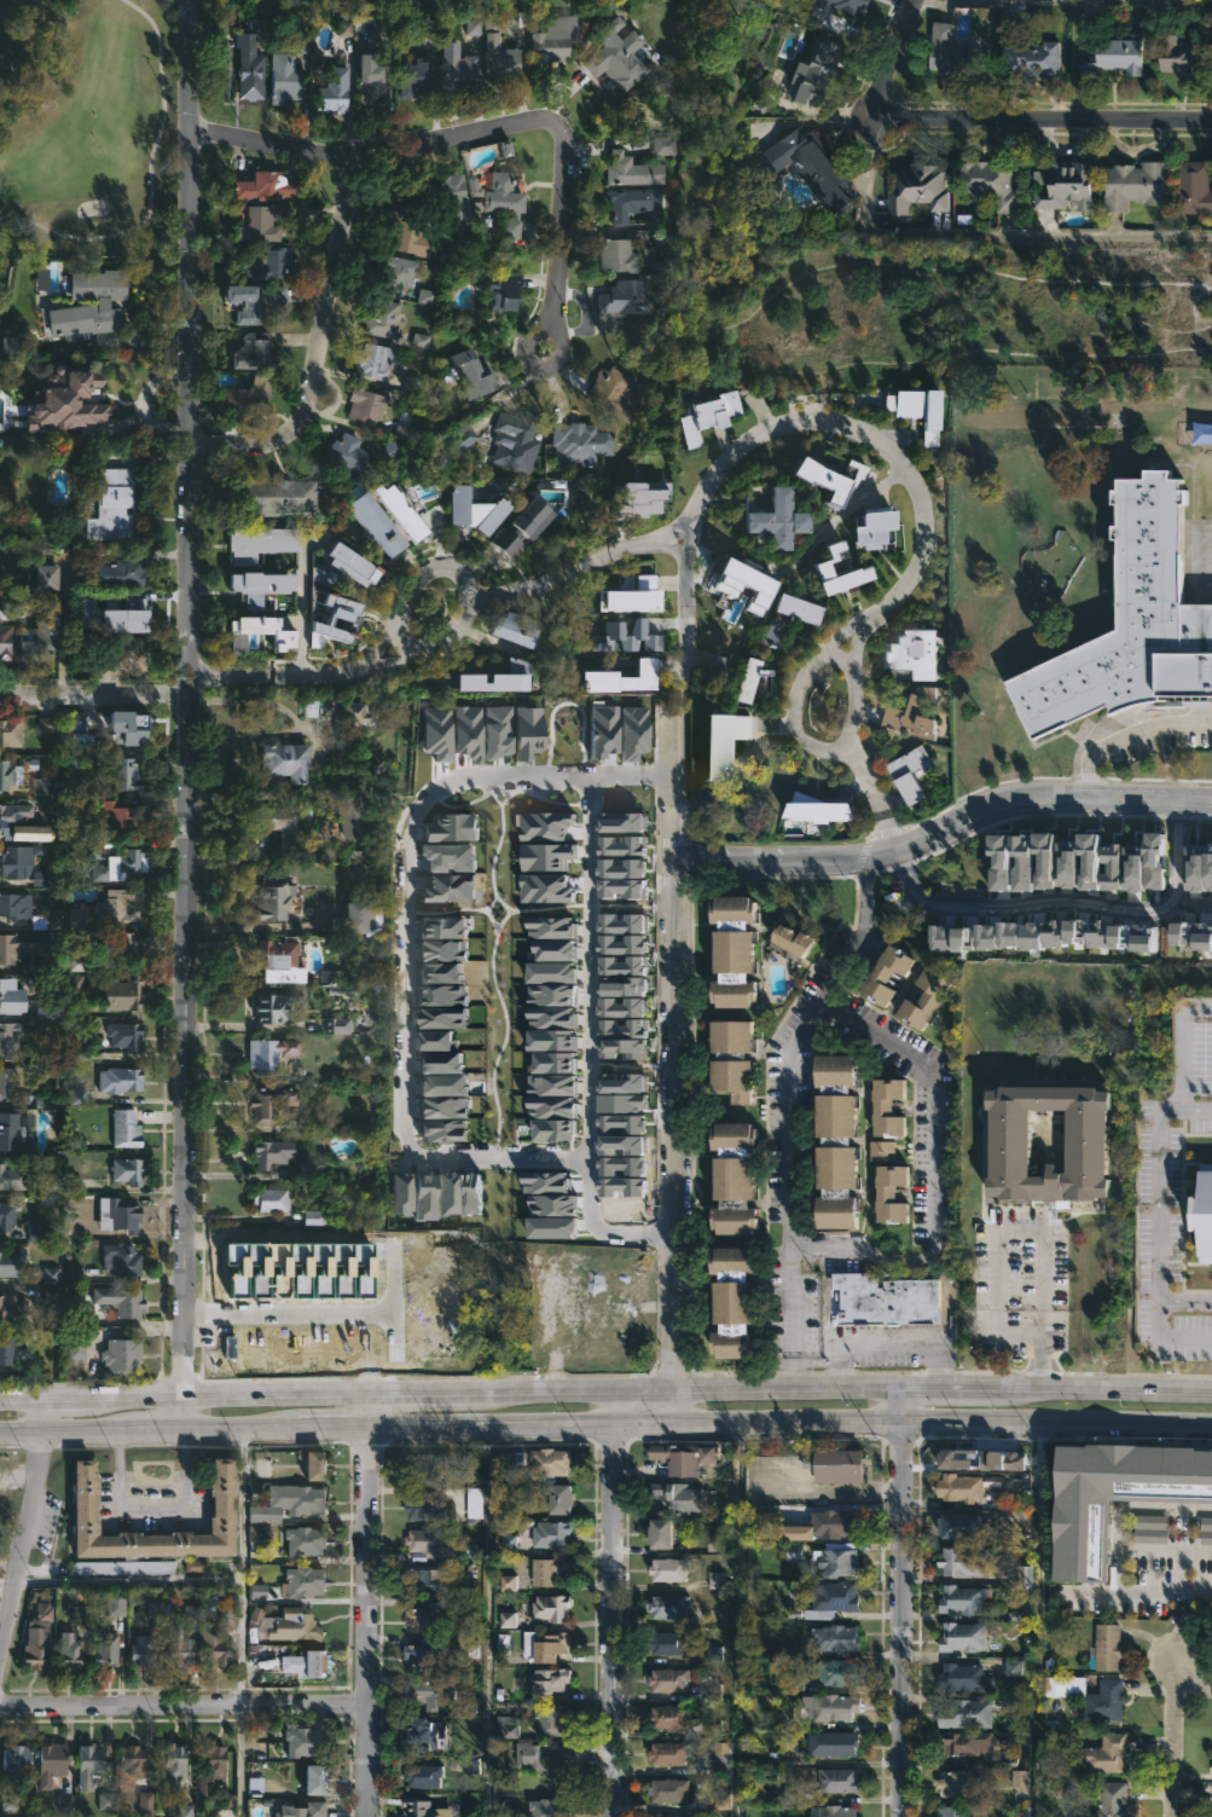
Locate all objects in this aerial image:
road: (1062, 0)
building: (550, 51)
building: (950, 51)
building: (503, 53)
building: (620, 54)
building: (1109, 56)
building: (1030, 57)
building: (1176, 58)
building: (251, 66)
building: (460, 68)
building: (811, 71)
building: (418, 76)
building: (286, 77)
building: (375, 77)
building: (334, 92)
road: (992, 110)
park: (86, 116)
road: (366, 152)
building: (800, 164)
building: (633, 169)
road: (152, 180)
building: (988, 183)
building: (1132, 184)
building: (1060, 185)
building: (1191, 186)
building: (269, 187)
building: (916, 187)
building: (503, 191)
building: (631, 201)
building: (458, 203)
building: (266, 221)
building: (514, 231)
building: (408, 235)
road: (972, 235)
building: (613, 254)
building: (273, 262)
road: (555, 267)
building: (405, 271)
road: (1110, 287)
building: (501, 295)
building: (257, 301)
building: (93, 303)
building: (622, 303)
park: (963, 307)
building: (387, 318)
building: (260, 348)
road: (318, 352)
building: (377, 360)
road: (835, 371)
building: (479, 375)
building: (615, 393)
building: (255, 397)
building: (371, 406)
building: (71, 409)
road: (133, 416)
building: (713, 416)
road: (160, 424)
building: (520, 433)
building: (458, 439)
building: (578, 442)
building: (352, 453)
building: (836, 480)
building: (273, 497)
building: (112, 507)
building: (481, 511)
road: (841, 514)
building: (779, 522)
building: (376, 523)
building: (528, 527)
building: (880, 531)
building: (261, 543)
road: (578, 568)
building: (833, 568)
building: (349, 571)
building: (127, 572)
road: (905, 584)
building: (262, 588)
road: (683, 591)
road: (302, 609)
building: (129, 618)
building: (353, 620)
building: (781, 621)
building: (1127, 621)
road: (462, 625)
building: (7, 631)
building: (520, 631)
building: (262, 633)
building: (45, 636)
building: (123, 654)
road: (836, 658)
building: (627, 675)
road: (228, 678)
building: (756, 679)
building: (501, 681)
road: (796, 690)
road: (92, 693)
road: (253, 700)
building: (907, 711)
road: (185, 716)
building: (360, 716)
building: (51, 728)
building: (129, 728)
building: (11, 730)
road: (1126, 736)
building: (288, 760)
building: (905, 770)
building: (10, 774)
building: (128, 775)
building: (44, 789)
building: (11, 815)
building: (112, 815)
building: (355, 816)
building: (284, 823)
road: (943, 828)
road: (1177, 851)
building: (18, 860)
building: (121, 867)
building: (274, 899)
road: (1194, 901)
road: (1021, 903)
building: (15, 904)
building: (117, 908)
building: (361, 918)
building: (791, 941)
building: (120, 945)
building: (744, 949)
building: (10, 954)
building: (282, 960)
road: (402, 973)
building: (888, 973)
building: (127, 993)
building: (5, 997)
building: (928, 997)
road: (586, 1001)
building: (274, 1007)
building: (126, 1035)
building: (12, 1040)
road: (1185, 1051)
building: (273, 1053)
building: (740, 1058)
building: (120, 1080)
building: (7, 1081)
road: (675, 1086)
road: (788, 1095)
building: (269, 1103)
building: (893, 1110)
building: (127, 1129)
building: (11, 1132)
building: (845, 1142)
building: (1009, 1146)
building: (885, 1150)
building: (273, 1152)
building: (128, 1170)
road: (933, 1175)
building: (12, 1177)
building: (742, 1177)
building: (894, 1193)
building: (272, 1200)
building: (1204, 1208)
road: (1160, 1209)
building: (7, 1211)
building: (120, 1215)
road: (1020, 1227)
building: (122, 1260)
building: (11, 1265)
building: (882, 1298)
building: (122, 1300)
building: (740, 1302)
building: (13, 1306)
road: (998, 1321)
road: (1044, 1321)
road: (1159, 1336)
road: (886, 1341)
building: (79, 1342)
road: (1043, 1342)
building: (7, 1348)
building: (122, 1355)
road: (605, 1398)
road: (900, 1407)
road: (677, 1410)
road: (609, 1411)
road: (605, 1425)
building: (683, 1456)
building: (967, 1460)
building: (551, 1462)
building: (320, 1466)
building: (845, 1466)
building: (421, 1470)
building: (957, 1487)
building: (675, 1494)
building: (472, 1499)
building: (567, 1500)
building: (290, 1503)
building: (87, 1508)
building: (425, 1508)
building: (836, 1523)
building: (957, 1524)
road: (1120, 1532)
road: (29, 1533)
building: (552, 1534)
building: (666, 1534)
building: (306, 1540)
building: (425, 1540)
building: (1085, 1540)
building: (834, 1558)
building: (959, 1560)
building: (123, 1567)
building: (668, 1568)
road: (243, 1569)
building: (546, 1569)
building: (301, 1580)
road: (131, 1581)
building: (424, 1581)
road: (1166, 1591)
building: (836, 1598)
building: (958, 1598)
building: (671, 1605)
building: (552, 1607)
road: (369, 1608)
building: (435, 1616)
road: (737, 1620)
road: (900, 1620)
road: (1037, 1620)
road: (610, 1621)
road: (486, 1622)
building: (296, 1626)
building: (958, 1636)
building: (833, 1637)
building: (663, 1642)
building: (547, 1645)
building: (1103, 1647)
building: (218, 1648)
building: (37, 1650)
building: (70, 1650)
building: (108, 1650)
building: (145, 1650)
building: (180, 1654)
building: (429, 1655)
building: (309, 1665)
building: (833, 1672)
building: (962, 1677)
building: (667, 1679)
building: (552, 1682)
building: (434, 1692)
building: (1086, 1695)
building: (831, 1706)
road: (184, 1707)
building: (963, 1713)
building: (663, 1715)
building: (553, 1719)
building: (514, 1729)
building: (428, 1736)
building: (305, 1737)
road: (1177, 1738)
building: (830, 1742)
building: (964, 1742)
building: (667, 1752)
building: (1103, 1754)
building: (543, 1757)
building: (719, 1757)
building: (19, 1759)
building: (134, 1759)
building: (174, 1759)
building: (215, 1761)
road: (239, 1761)
building: (52, 1763)
building: (1211, 1764)
building: (91, 1765)
building: (419, 1775)
building: (319, 1777)
building: (835, 1778)
building: (957, 1782)
building: (663, 1789)
building: (1110, 1800)
building: (552, 1806)
building: (428, 1807)
building: (305, 1809)
building: (830, 1811)
building: (952, 1811)
building: (1211, 1813)
building: (657, 1816)

